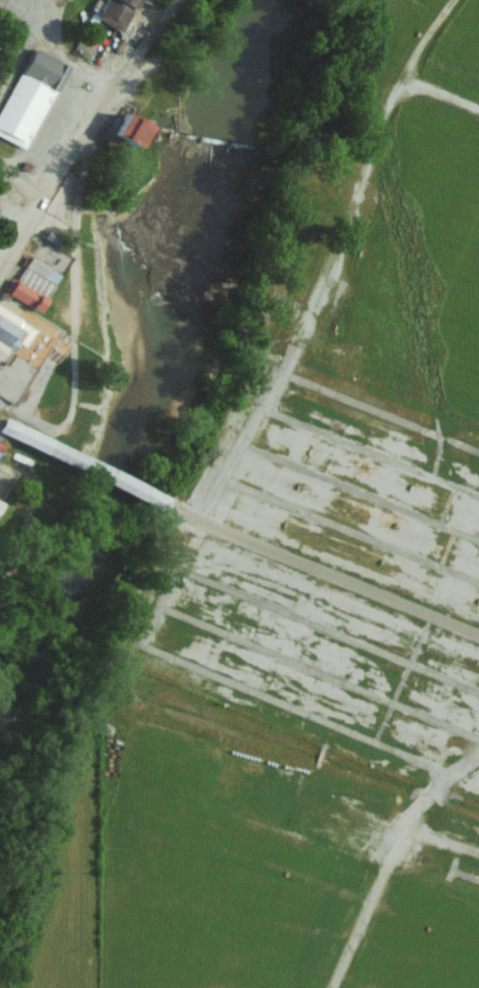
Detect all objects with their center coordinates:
building: (145, 1)
building: (115, 11)
building: (44, 68)
road: (63, 77)
road: (440, 91)
road: (104, 102)
building: (23, 108)
building: (133, 126)
road: (364, 167)
road: (20, 185)
river: (195, 231)
road: (20, 235)
building: (41, 269)
building: (34, 281)
building: (24, 292)
road: (72, 313)
building: (13, 329)
building: (2, 348)
road: (379, 409)
road: (1, 425)
building: (21, 431)
building: (0, 444)
road: (370, 451)
road: (437, 455)
road: (84, 465)
road: (358, 490)
building: (0, 498)
building: (1, 503)
road: (447, 504)
road: (350, 529)
road: (446, 547)
road: (322, 571)
river: (66, 590)
road: (328, 629)
road: (139, 639)
road: (319, 671)
road: (401, 678)
road: (461, 764)

